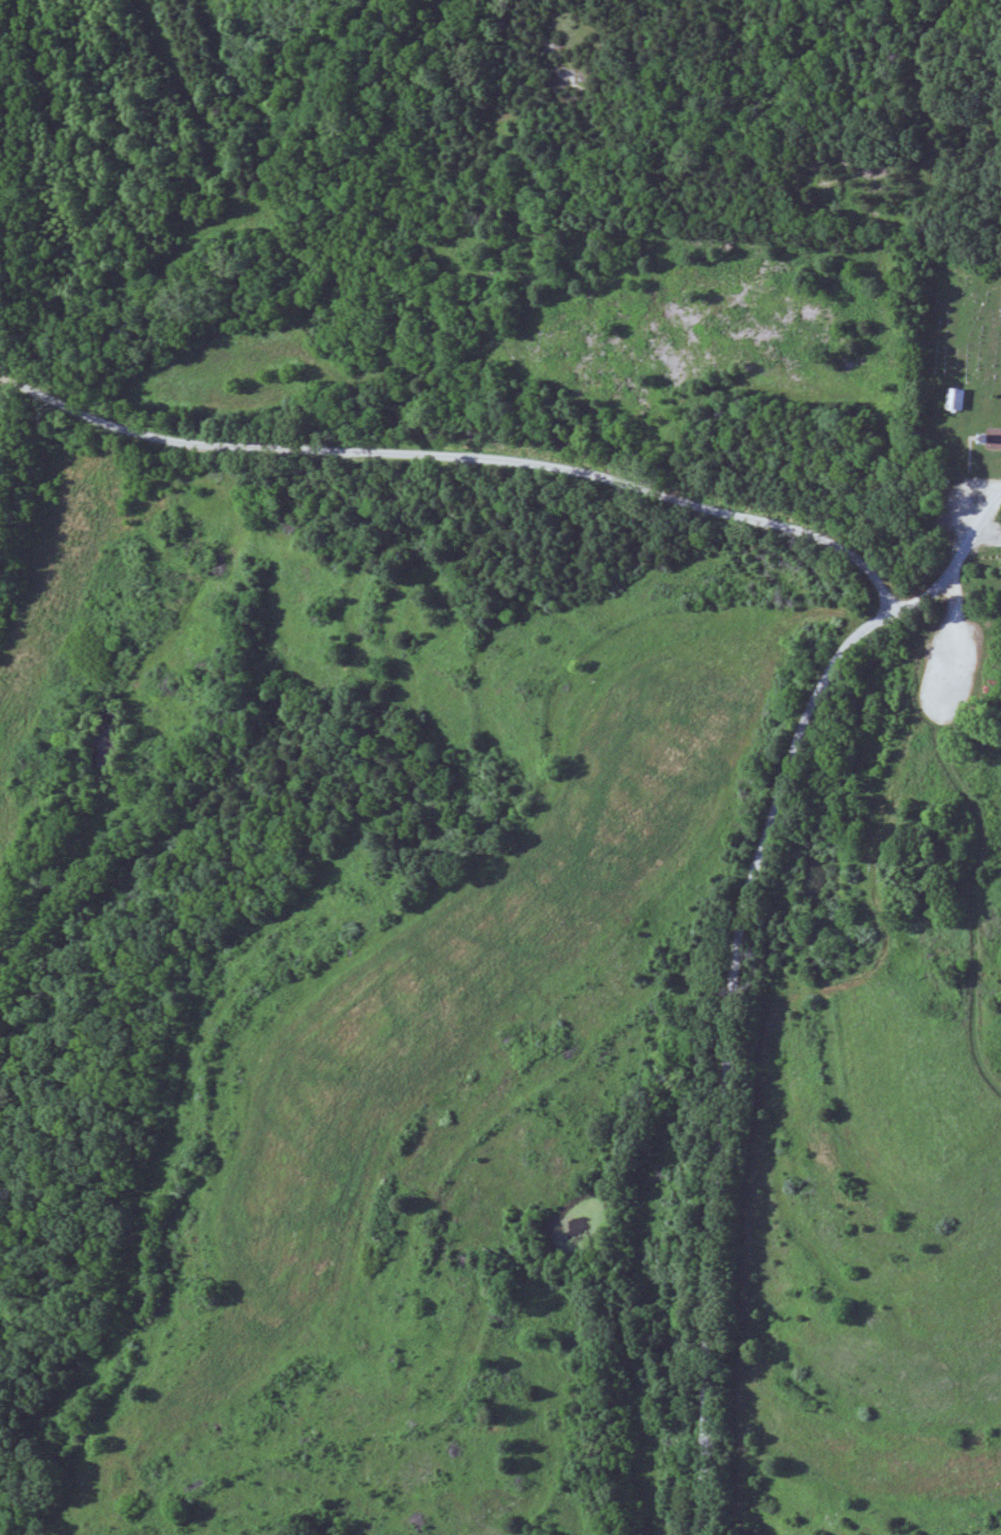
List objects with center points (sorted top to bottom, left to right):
park: (959, 320)
building: (955, 400)
building: (992, 439)
road: (545, 468)
parking lot: (954, 605)
road: (954, 647)
road: (730, 1052)

